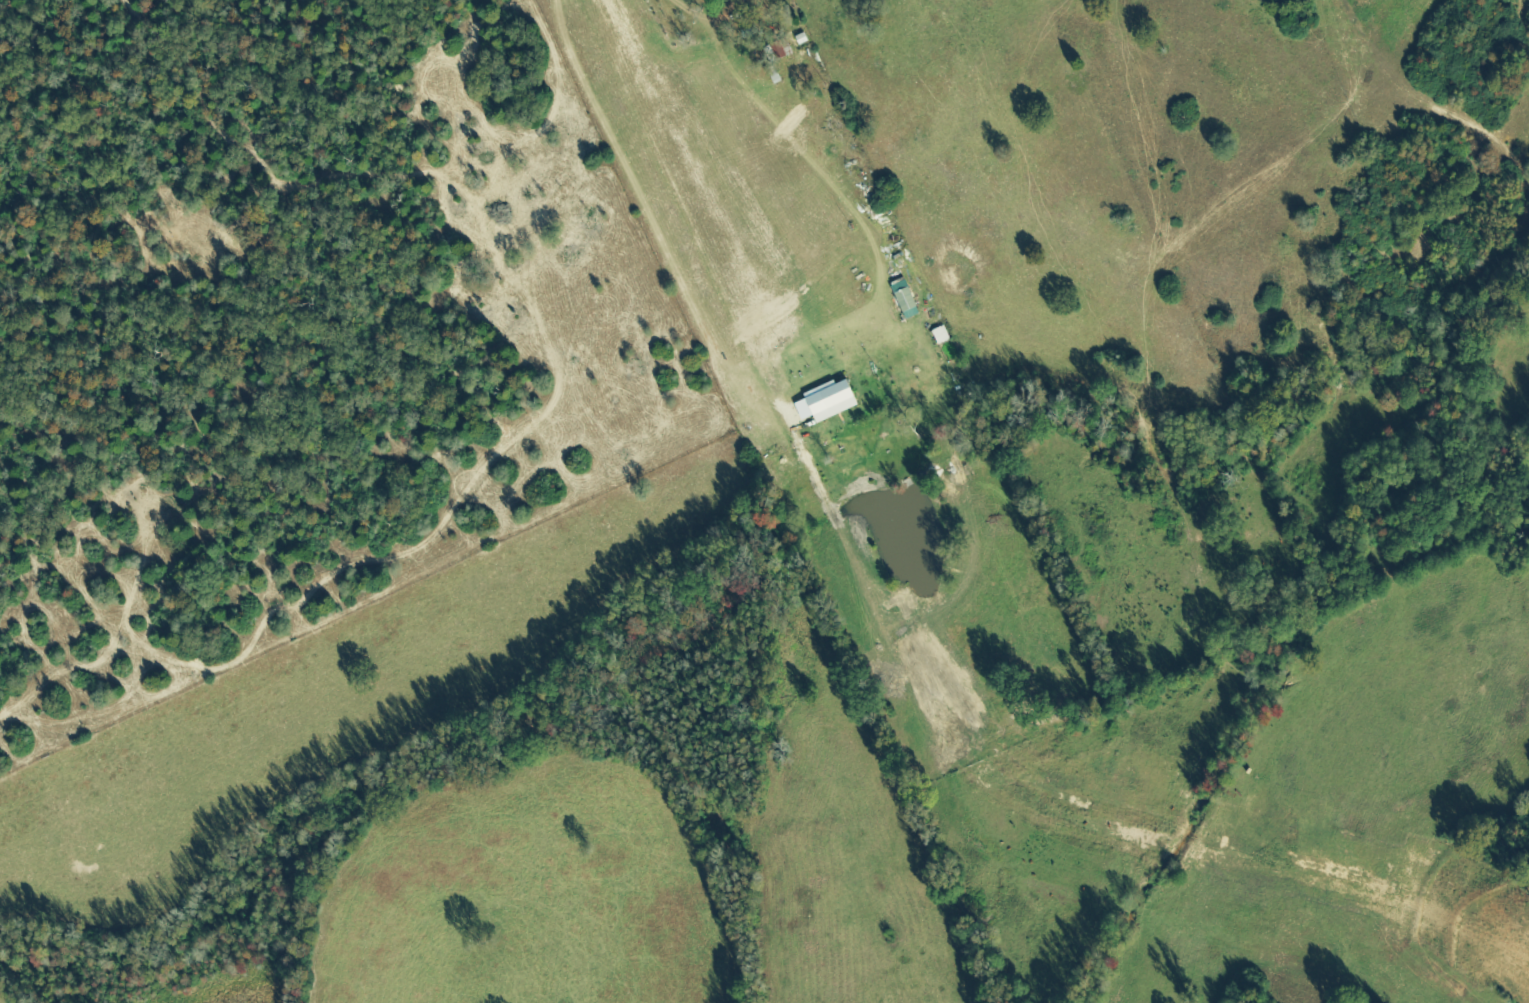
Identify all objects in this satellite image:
building: (908, 300)
building: (835, 401)

